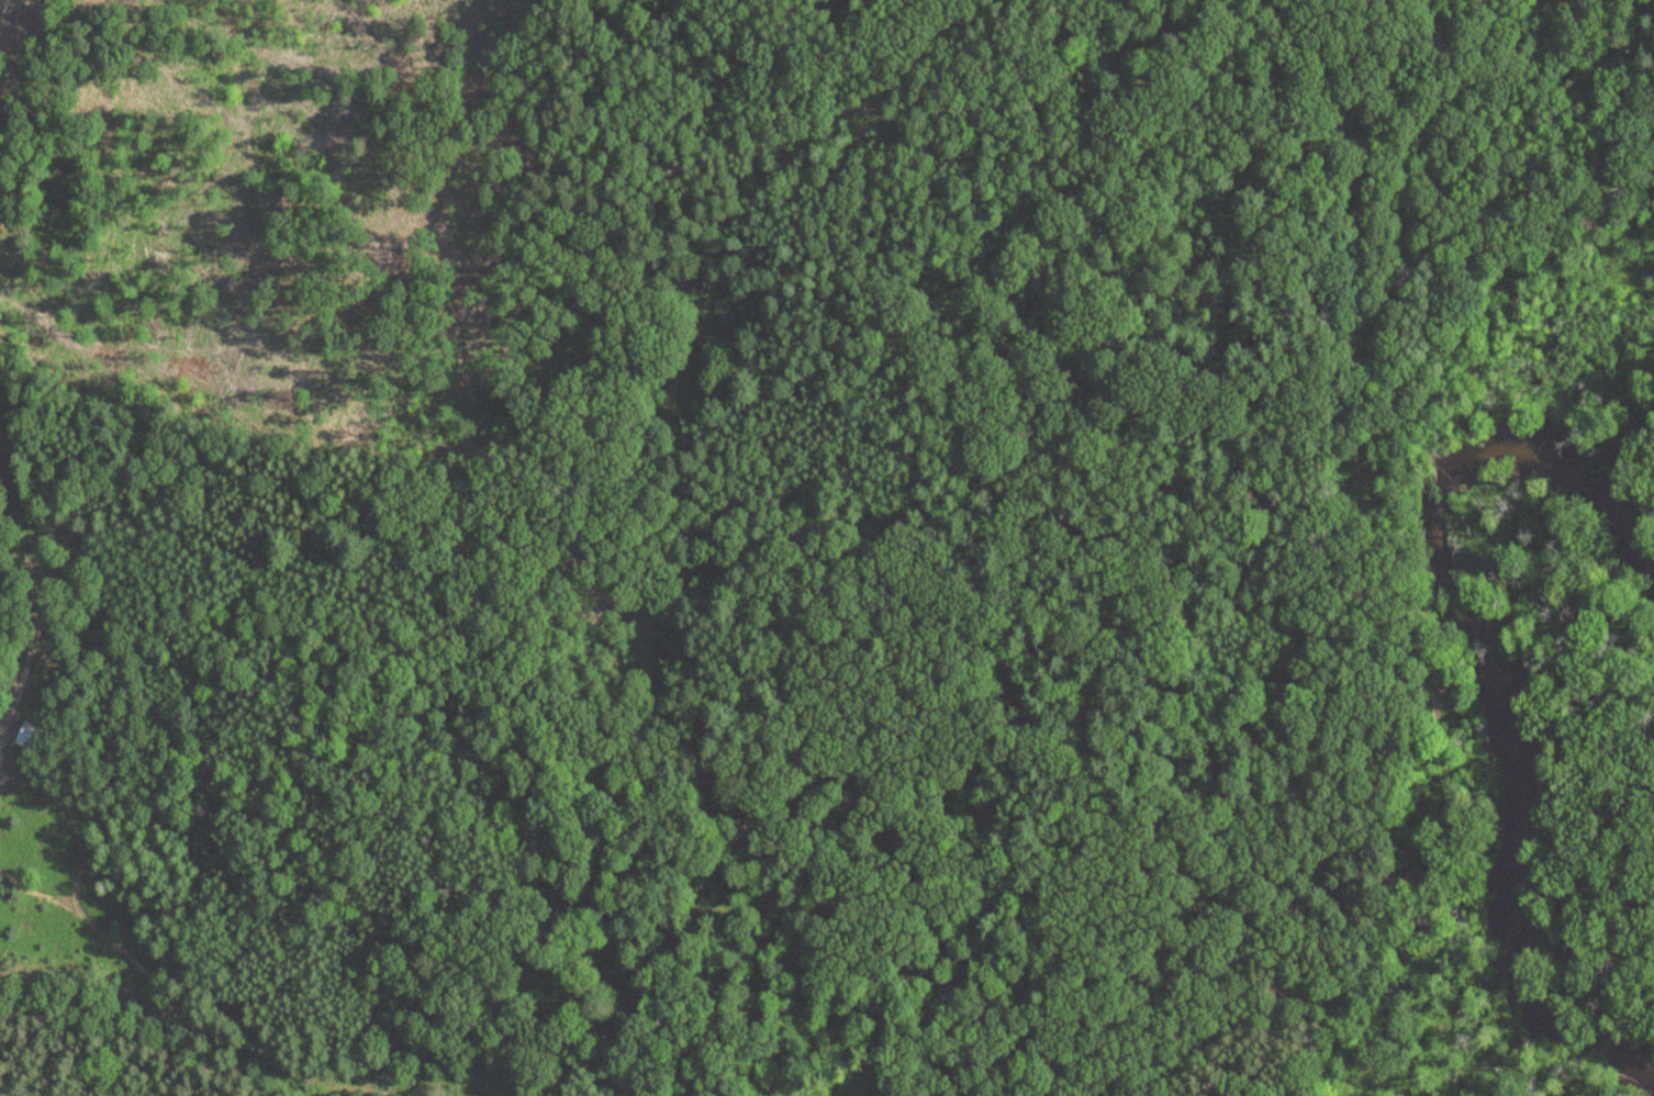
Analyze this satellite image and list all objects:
road: (1376, 551)
river: (1509, 702)
building: (26, 736)

